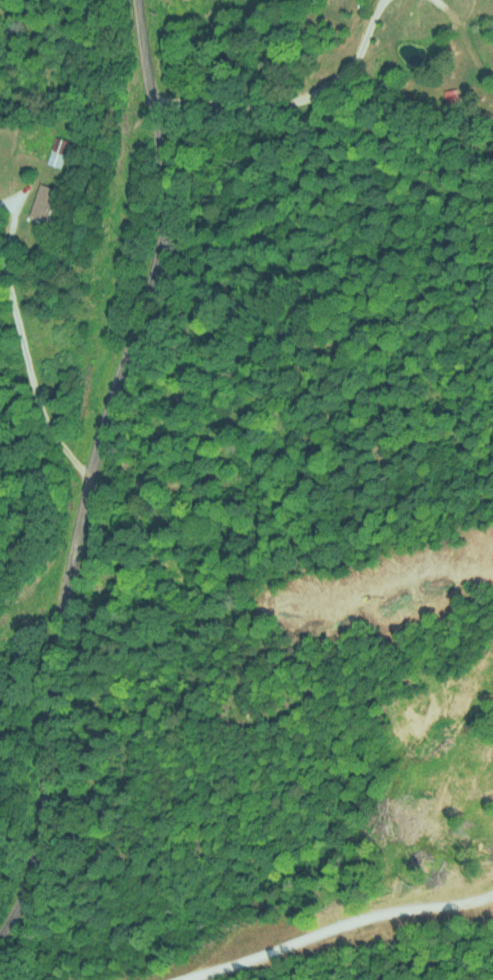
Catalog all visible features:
building: (57, 151)
building: (43, 203)
road: (97, 467)

